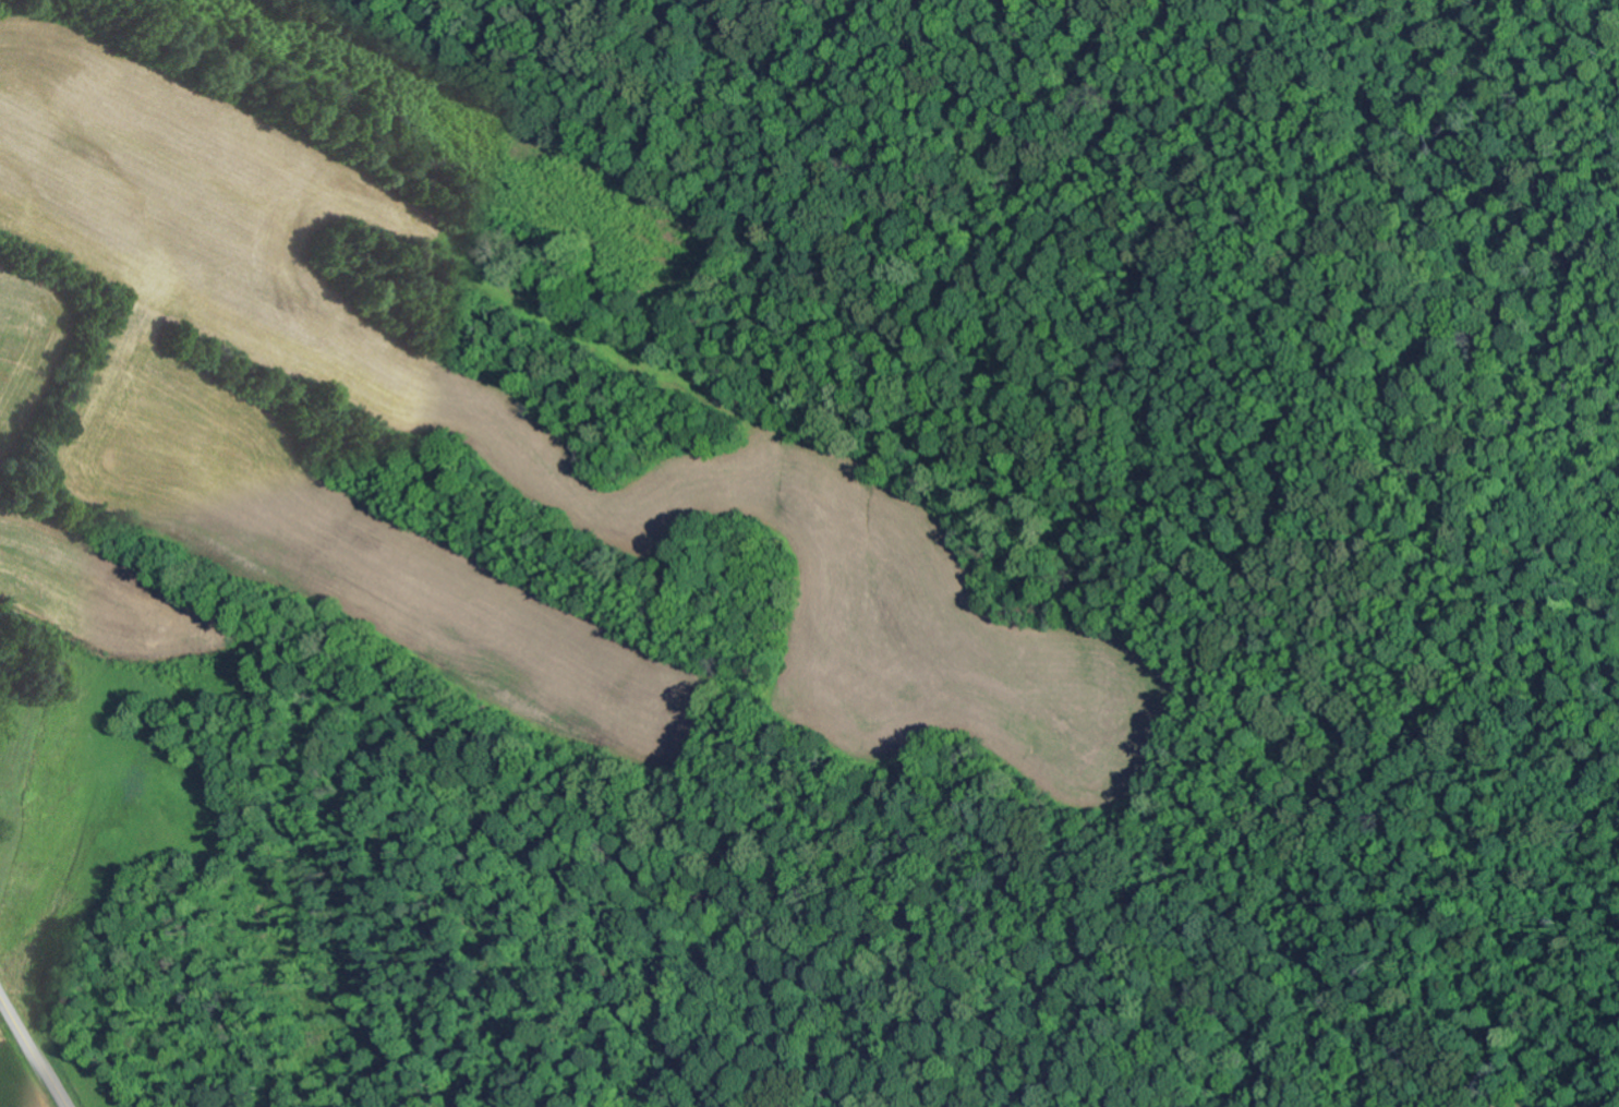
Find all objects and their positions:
road: (34, 1051)

